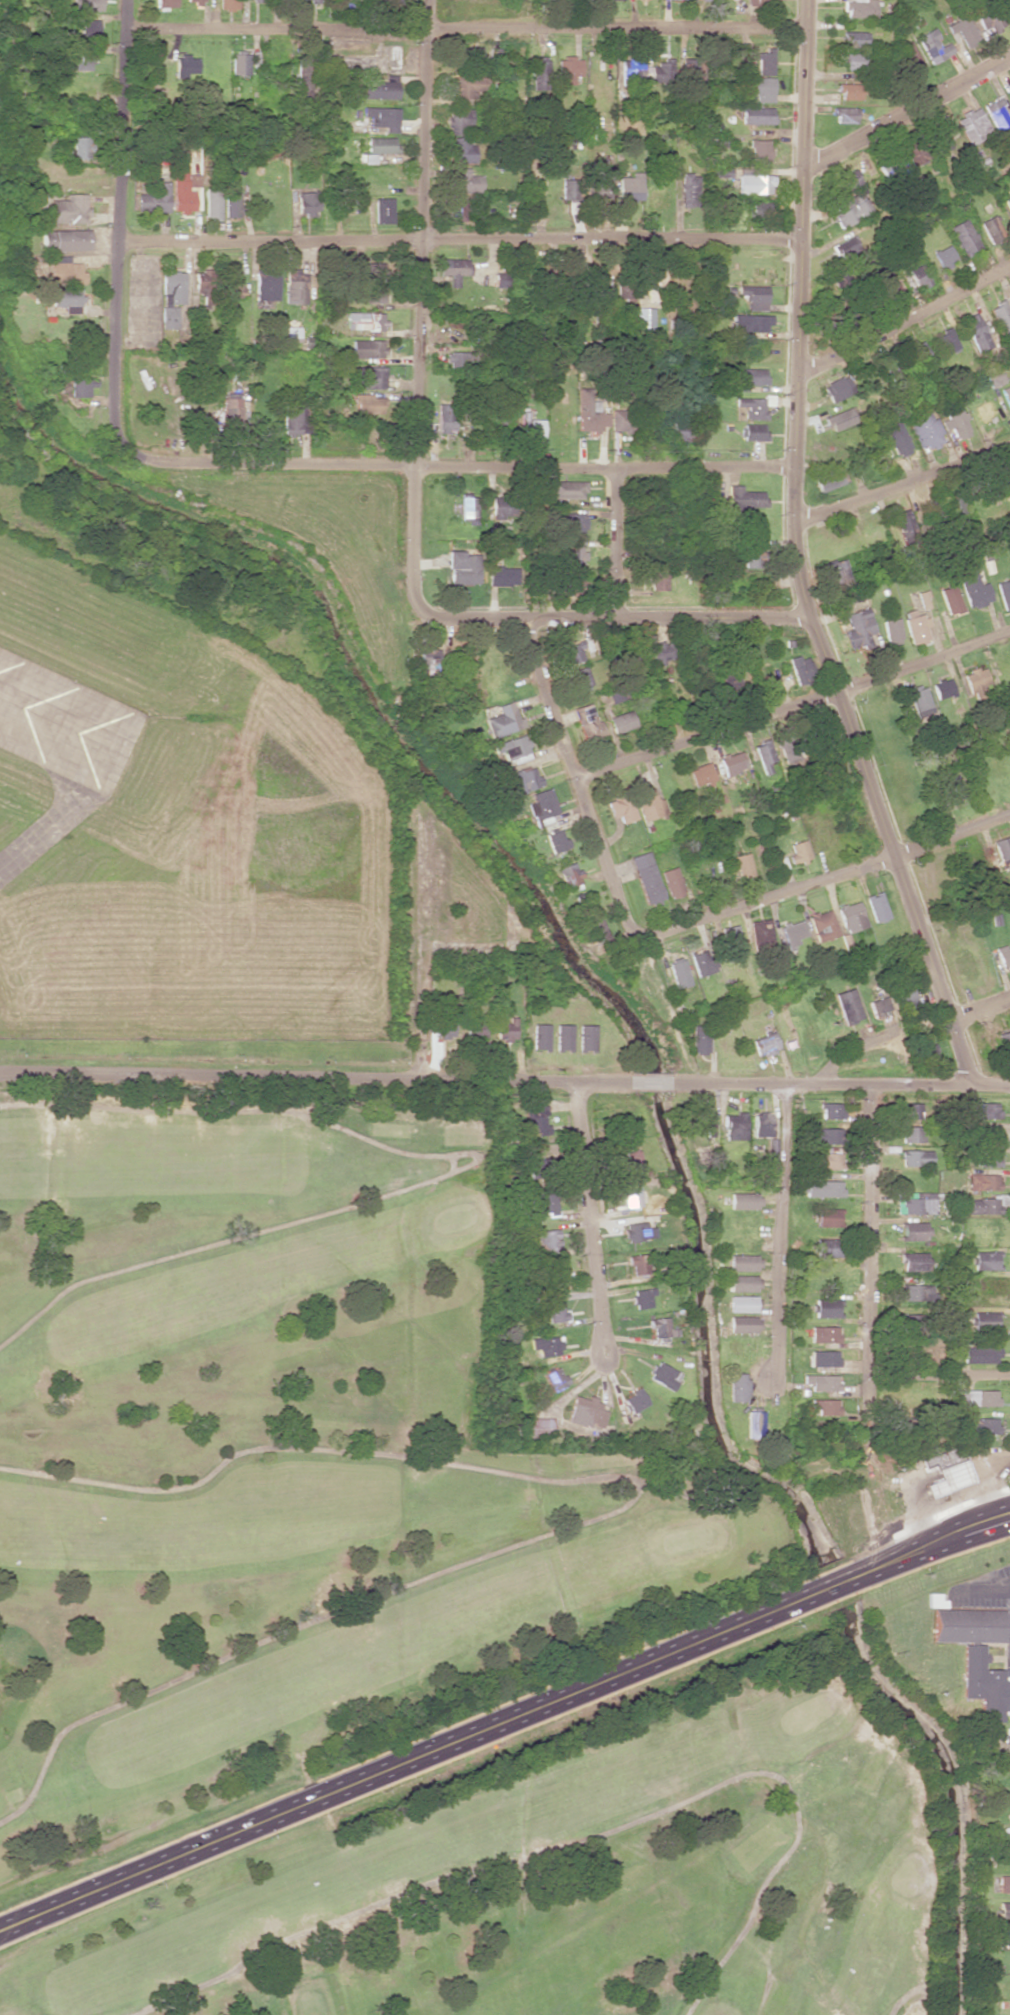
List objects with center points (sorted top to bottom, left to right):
building: (258, 0)
building: (311, 0)
building: (390, 0)
building: (195, 1)
building: (761, 2)
building: (166, 3)
building: (87, 4)
building: (230, 4)
building: (1007, 6)
building: (859, 8)
building: (990, 18)
building: (89, 27)
road: (465, 28)
building: (963, 30)
building: (856, 38)
building: (934, 46)
building: (472, 56)
building: (81, 58)
building: (909, 58)
building: (765, 61)
building: (241, 63)
building: (186, 64)
building: (568, 69)
building: (694, 70)
building: (659, 71)
building: (632, 73)
building: (540, 74)
building: (469, 86)
building: (382, 88)
building: (762, 88)
building: (1009, 88)
building: (850, 91)
building: (996, 112)
road: (907, 113)
building: (845, 114)
building: (758, 115)
building: (383, 117)
building: (460, 120)
building: (972, 125)
building: (942, 141)
building: (379, 144)
building: (79, 147)
building: (463, 150)
building: (760, 150)
building: (917, 153)
building: (847, 179)
building: (466, 181)
building: (598, 181)
building: (755, 182)
building: (181, 186)
building: (631, 188)
building: (569, 189)
building: (690, 190)
building: (154, 198)
building: (212, 202)
building: (1007, 202)
building: (307, 203)
building: (232, 204)
building: (69, 209)
building: (761, 209)
building: (851, 209)
building: (383, 210)
building: (457, 211)
road: (117, 226)
building: (991, 229)
building: (964, 236)
road: (458, 239)
building: (65, 240)
building: (845, 247)
building: (943, 256)
building: (454, 269)
building: (65, 270)
building: (373, 271)
building: (919, 276)
building: (596, 278)
building: (502, 279)
building: (555, 279)
building: (206, 284)
building: (232, 284)
building: (655, 284)
building: (266, 285)
building: (294, 285)
building: (887, 287)
building: (375, 294)
building: (66, 296)
building: (754, 296)
building: (171, 297)
road: (419, 308)
road: (905, 315)
building: (645, 317)
building: (1002, 319)
building: (365, 320)
building: (749, 322)
building: (975, 330)
building: (292, 333)
building: (946, 339)
building: (367, 348)
building: (920, 351)
building: (458, 359)
building: (368, 377)
building: (748, 378)
building: (994, 378)
building: (79, 386)
building: (838, 388)
building: (1007, 398)
building: (368, 404)
building: (752, 407)
building: (231, 411)
building: (590, 412)
building: (293, 417)
building: (446, 418)
building: (839, 419)
building: (619, 420)
building: (955, 422)
building: (535, 427)
building: (925, 429)
building: (682, 430)
building: (753, 431)
building: (897, 438)
road: (457, 466)
building: (829, 479)
road: (901, 480)
building: (567, 489)
building: (745, 497)
building: (468, 507)
building: (502, 507)
building: (573, 524)
building: (905, 527)
road: (615, 543)
building: (572, 555)
building: (753, 556)
road: (795, 556)
building: (462, 567)
building: (836, 573)
building: (503, 575)
building: (656, 581)
building: (974, 590)
building: (1004, 593)
building: (950, 599)
road: (615, 617)
building: (856, 620)
building: (916, 628)
building: (892, 631)
building: (576, 650)
building: (659, 652)
building: (429, 660)
building: (800, 668)
building: (580, 677)
building: (976, 679)
building: (941, 688)
building: (616, 693)
building: (919, 700)
road: (793, 705)
airport runway: (55, 719)
building: (503, 719)
building: (588, 719)
building: (623, 721)
building: (512, 746)
building: (764, 756)
building: (732, 762)
building: (701, 774)
road: (574, 776)
building: (522, 780)
building: (951, 788)
building: (649, 803)
building: (541, 804)
building: (621, 808)
airport taxiway: (65, 817)
airport: (179, 829)
building: (555, 840)
building: (1002, 848)
building: (798, 851)
building: (743, 864)
building: (568, 875)
building: (646, 877)
road: (822, 878)
building: (672, 882)
building: (582, 901)
building: (875, 906)
building: (851, 916)
building: (821, 924)
building: (596, 930)
building: (759, 932)
building: (791, 932)
building: (731, 941)
building: (1004, 955)
building: (702, 962)
building: (679, 972)
building: (905, 998)
building: (848, 1005)
building: (878, 1005)
building: (505, 1030)
road: (915, 1035)
building: (540, 1036)
building: (563, 1037)
building: (586, 1037)
building: (700, 1039)
building: (1004, 1040)
building: (765, 1043)
building: (925, 1053)
road: (505, 1077)
building: (830, 1110)
building: (909, 1110)
building: (985, 1110)
building: (538, 1123)
building: (622, 1123)
building: (703, 1123)
building: (762, 1124)
building: (734, 1126)
building: (910, 1133)
building: (988, 1134)
building: (825, 1135)
building: (914, 1157)
building: (627, 1158)
building: (988, 1159)
building: (826, 1160)
building: (983, 1181)
building: (822, 1188)
building: (631, 1196)
building: (743, 1200)
building: (548, 1203)
building: (912, 1204)
building: (981, 1205)
building: (827, 1217)
road: (592, 1220)
building: (913, 1230)
building: (638, 1231)
road: (823, 1231)
building: (549, 1242)
building: (826, 1247)
building: (984, 1260)
building: (912, 1261)
building: (743, 1262)
building: (638, 1263)
building: (743, 1282)
road: (916, 1286)
building: (915, 1292)
building: (642, 1298)
building: (742, 1303)
building: (826, 1308)
building: (557, 1311)
building: (982, 1320)
building: (910, 1321)
building: (742, 1324)
building: (662, 1327)
building: (824, 1334)
building: (547, 1345)
building: (980, 1354)
building: (824, 1358)
building: (664, 1375)
building: (555, 1378)
road: (963, 1380)
building: (822, 1382)
building: (738, 1387)
building: (977, 1397)
building: (635, 1400)
building: (825, 1406)
building: (586, 1412)
building: (754, 1424)
building: (979, 1425)
building: (539, 1428)
building: (944, 1472)
road: (945, 1537)
park: (387, 1619)
building: (978, 1661)
building: (1007, 1735)
road: (440, 1747)
building: (1009, 1813)
building: (1006, 1834)
building: (1004, 1883)
building: (1004, 1909)
building: (1004, 1932)

